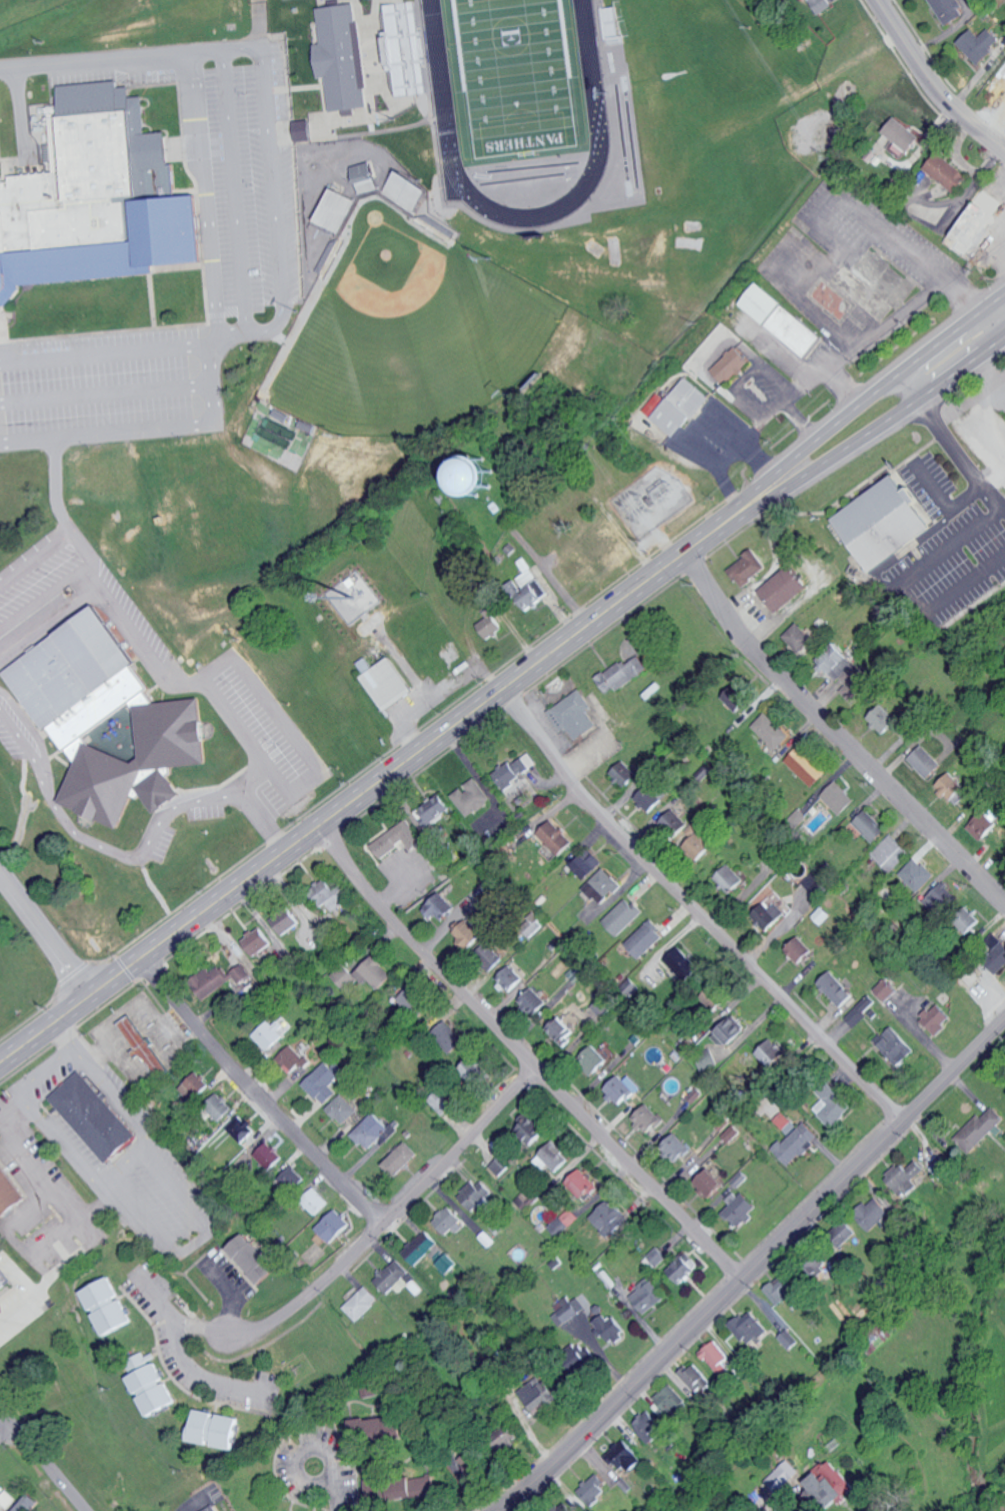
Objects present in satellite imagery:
building: (801, 0)
building: (823, 5)
building: (948, 10)
park: (33, 15)
building: (978, 44)
building: (343, 56)
track: (438, 71)
park: (516, 81)
road: (928, 86)
road: (990, 115)
building: (304, 130)
building: (902, 133)
building: (897, 149)
building: (948, 172)
parking lot: (250, 175)
building: (367, 176)
road: (273, 177)
building: (401, 185)
road: (233, 193)
building: (96, 199)
building: (337, 209)
building: (972, 226)
road: (206, 255)
road: (913, 304)
building: (782, 320)
park: (409, 332)
road: (106, 348)
building: (730, 364)
road: (818, 374)
road: (107, 380)
parking lot: (104, 382)
road: (879, 388)
building: (681, 407)
road: (775, 407)
road: (107, 409)
road: (884, 422)
road: (951, 437)
road: (731, 461)
water tower: (472, 475)
building: (489, 476)
road: (58, 487)
building: (884, 522)
building: (749, 568)
road: (967, 581)
building: (786, 588)
building: (533, 594)
building: (487, 622)
building: (800, 637)
road: (167, 667)
building: (848, 670)
building: (624, 674)
building: (387, 683)
building: (737, 698)
building: (577, 715)
building: (104, 720)
building: (884, 720)
building: (772, 731)
road: (836, 737)
building: (927, 762)
building: (808, 766)
building: (517, 770)
building: (625, 774)
road: (378, 778)
building: (950, 787)
building: (472, 797)
building: (840, 797)
building: (648, 805)
building: (434, 810)
building: (676, 823)
building: (871, 826)
building: (558, 838)
building: (396, 839)
road: (96, 843)
building: (702, 850)
building: (890, 853)
building: (586, 862)
building: (917, 874)
building: (731, 879)
building: (815, 881)
building: (322, 886)
building: (604, 886)
building: (939, 898)
building: (331, 901)
building: (440, 908)
road: (696, 911)
building: (623, 916)
building: (770, 916)
building: (285, 923)
road: (46, 928)
building: (469, 934)
building: (646, 939)
building: (259, 942)
building: (800, 950)
building: (996, 952)
building: (489, 956)
building: (684, 964)
building: (374, 972)
building: (344, 977)
building: (509, 979)
building: (219, 981)
building: (837, 989)
building: (888, 989)
building: (410, 999)
building: (532, 1002)
building: (603, 1005)
road: (125, 1011)
building: (938, 1018)
building: (563, 1029)
building: (732, 1031)
building: (271, 1033)
building: (450, 1036)
building: (896, 1046)
building: (144, 1047)
building: (773, 1054)
road: (525, 1057)
building: (292, 1059)
building: (593, 1059)
road: (55, 1070)
building: (472, 1071)
building: (321, 1083)
building: (195, 1087)
building: (622, 1089)
road: (257, 1094)
building: (440, 1103)
building: (220, 1106)
building: (832, 1108)
building: (341, 1109)
building: (95, 1117)
building: (648, 1118)
building: (530, 1128)
building: (243, 1129)
building: (980, 1130)
building: (373, 1131)
building: (732, 1134)
building: (797, 1144)
building: (677, 1147)
building: (268, 1156)
building: (401, 1158)
building: (553, 1158)
road: (123, 1162)
building: (500, 1165)
building: (291, 1179)
building: (907, 1179)
building: (711, 1183)
building: (583, 1184)
building: (477, 1193)
building: (8, 1194)
building: (523, 1199)
building: (315, 1201)
building: (742, 1209)
building: (875, 1214)
building: (610, 1218)
building: (567, 1219)
building: (449, 1222)
road: (385, 1223)
building: (333, 1226)
road: (95, 1228)
building: (850, 1231)
building: (421, 1248)
building: (658, 1256)
building: (253, 1260)
building: (686, 1269)
road: (756, 1270)
building: (391, 1276)
building: (2, 1283)
building: (782, 1292)
building: (102, 1294)
building: (648, 1296)
road: (228, 1297)
building: (361, 1304)
building: (569, 1311)
building: (115, 1316)
building: (607, 1324)
road: (190, 1327)
building: (888, 1330)
building: (748, 1333)
building: (791, 1339)
road: (181, 1357)
building: (719, 1358)
building: (697, 1377)
building: (153, 1388)
building: (539, 1394)
building: (671, 1400)
building: (651, 1425)
building: (216, 1428)
road: (6, 1429)
road: (300, 1452)
building: (627, 1456)
road: (42, 1459)
building: (786, 1474)
building: (414, 1487)
building: (372, 1488)
building: (594, 1488)
building: (830, 1488)
building: (5, 1499)
road: (333, 1499)
building: (26, 1502)
building: (568, 1508)
building: (214, 1509)

